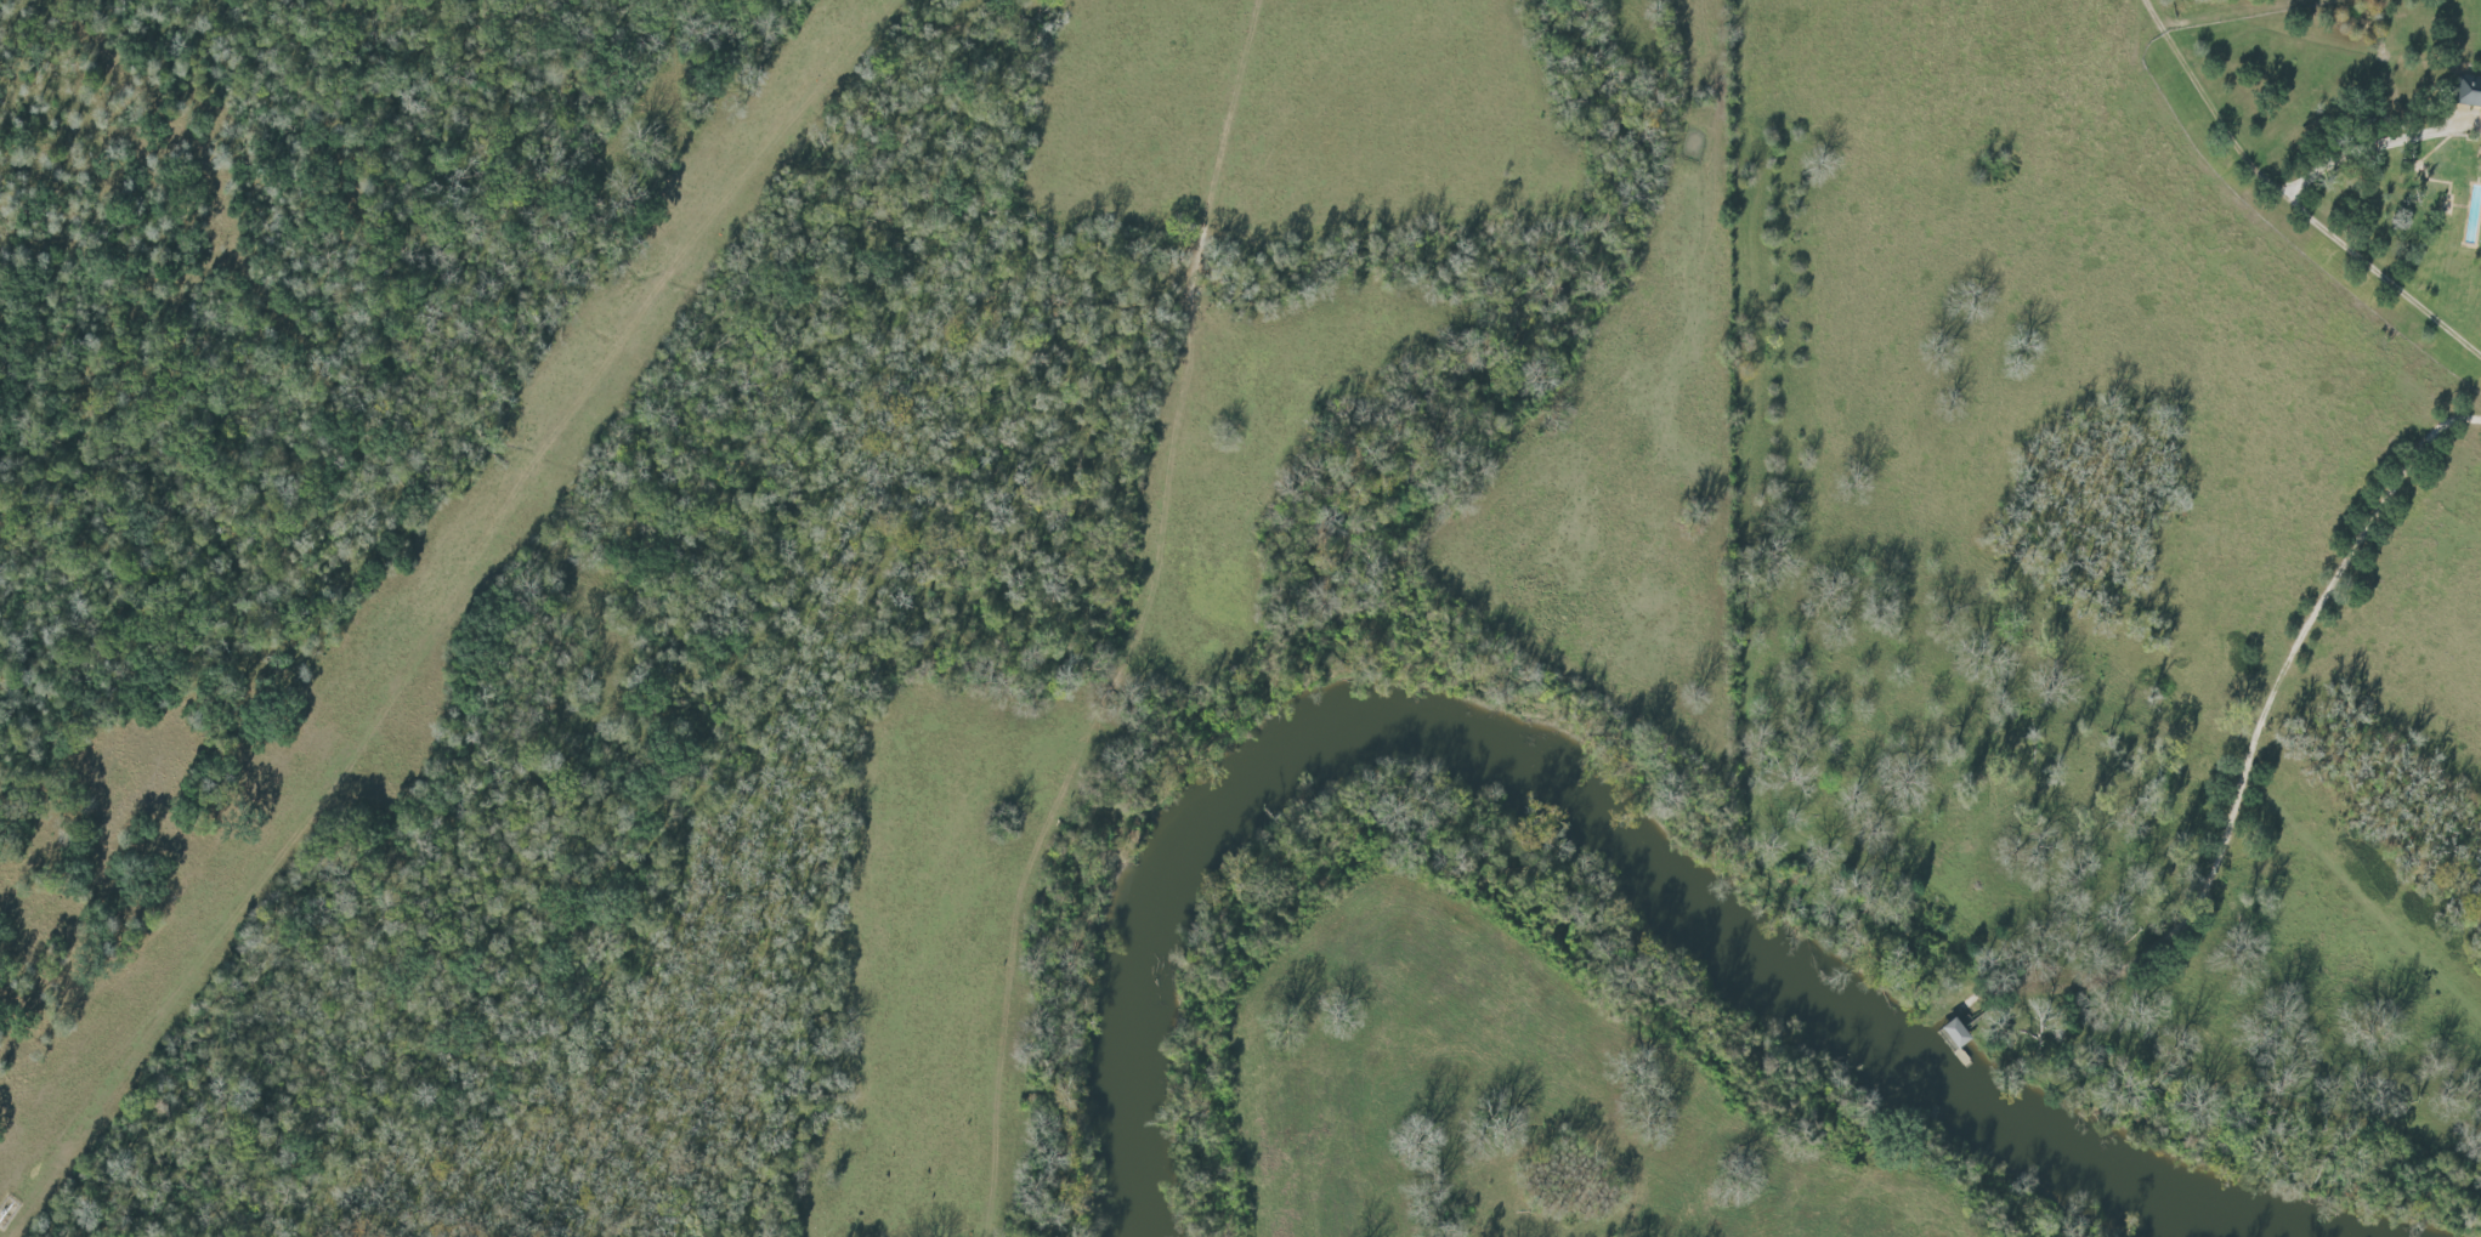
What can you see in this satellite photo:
building: (2468, 95)
road: (2379, 149)
road: (2285, 199)
road: (2277, 705)

